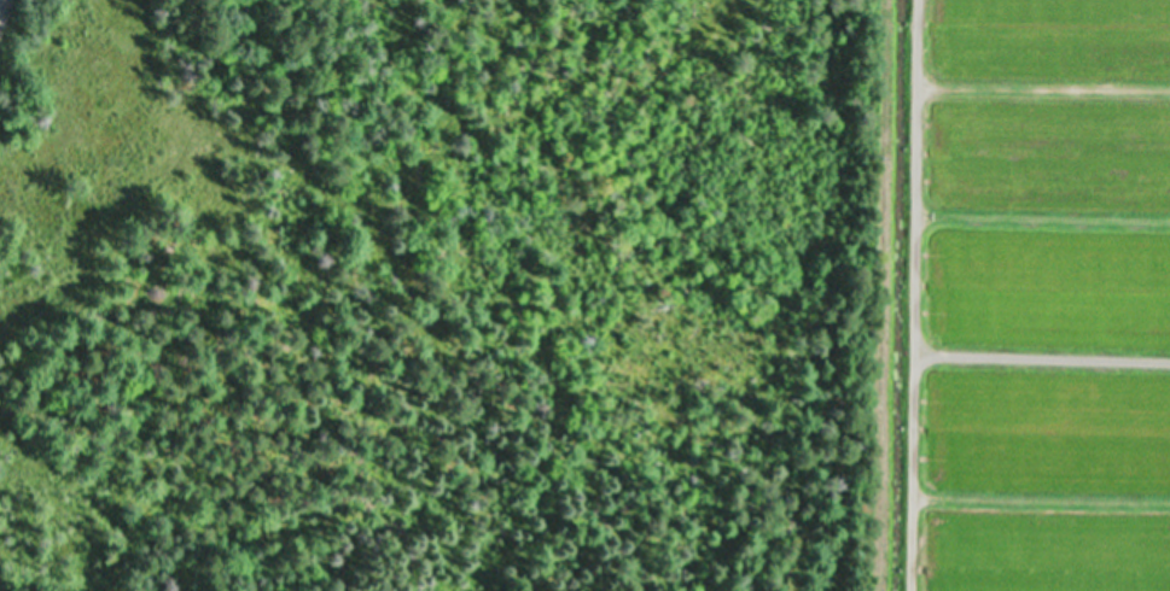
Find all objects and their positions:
crop: (1017, 298)

